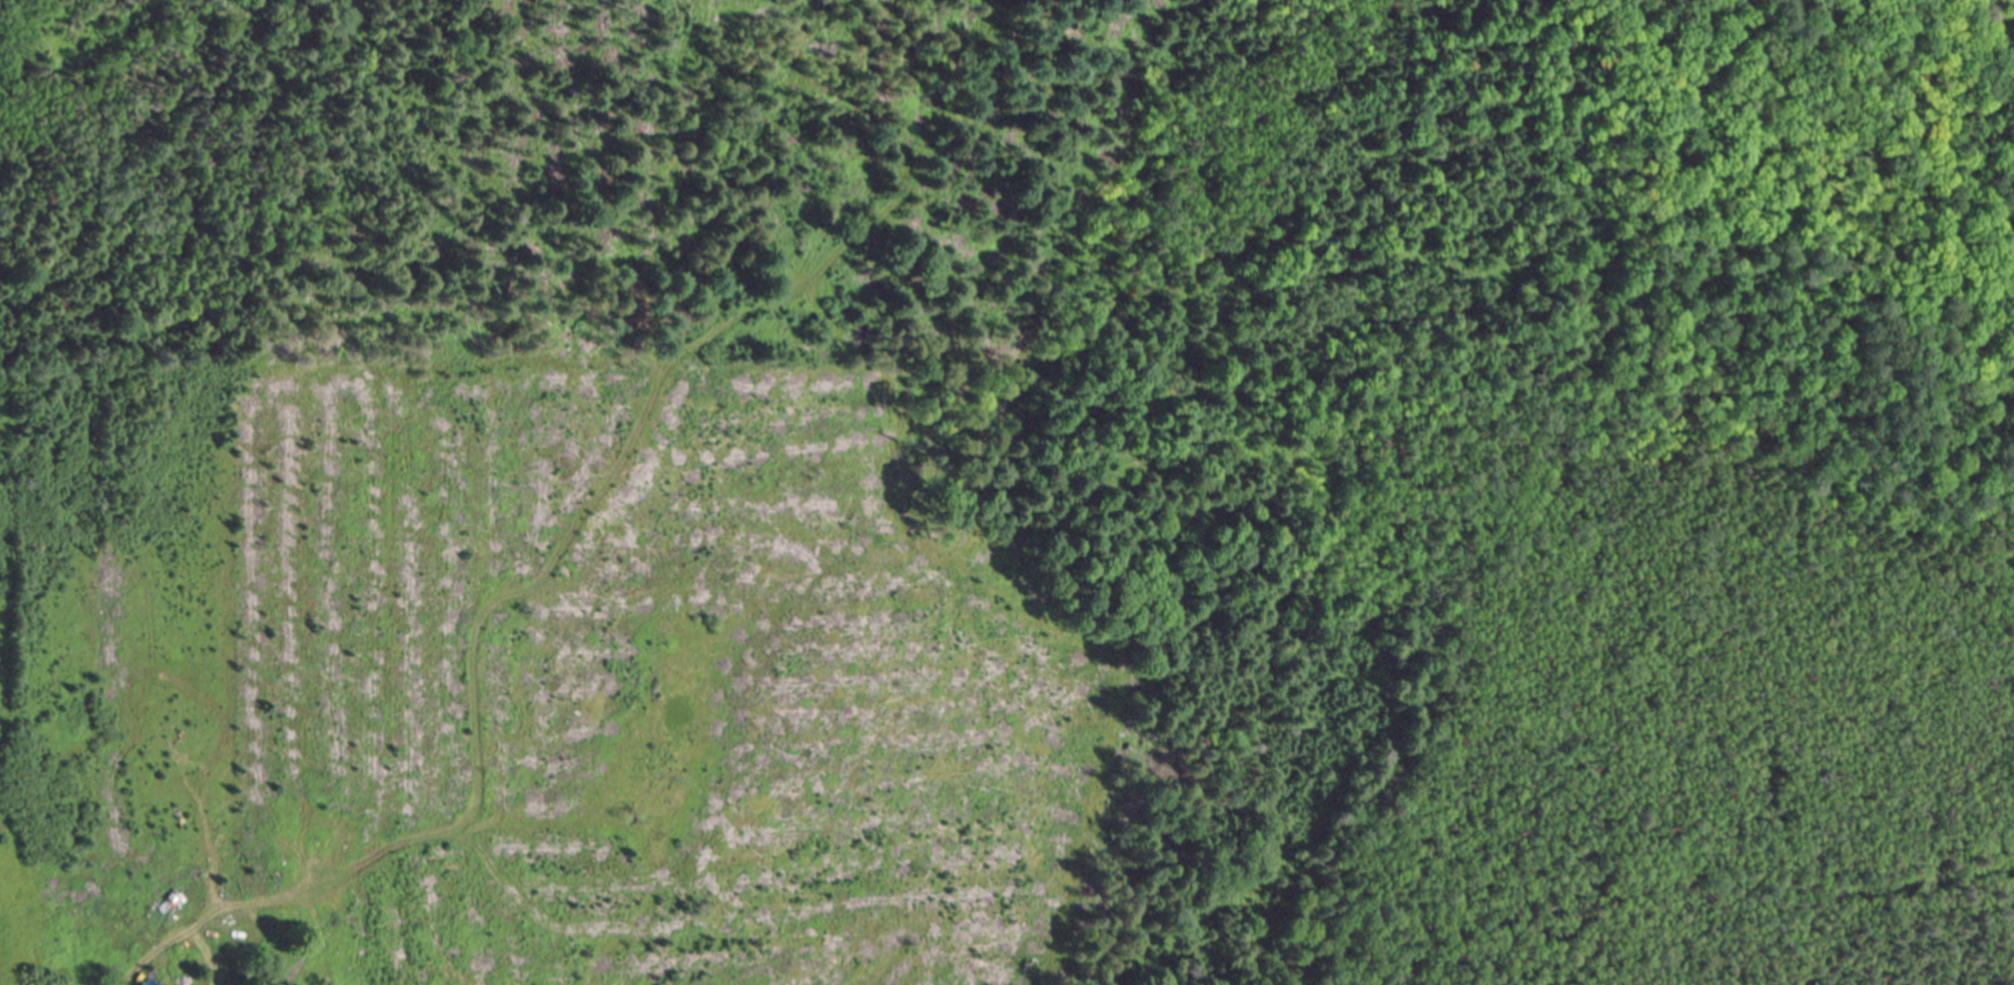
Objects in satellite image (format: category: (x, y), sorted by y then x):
building: (145, 983)

